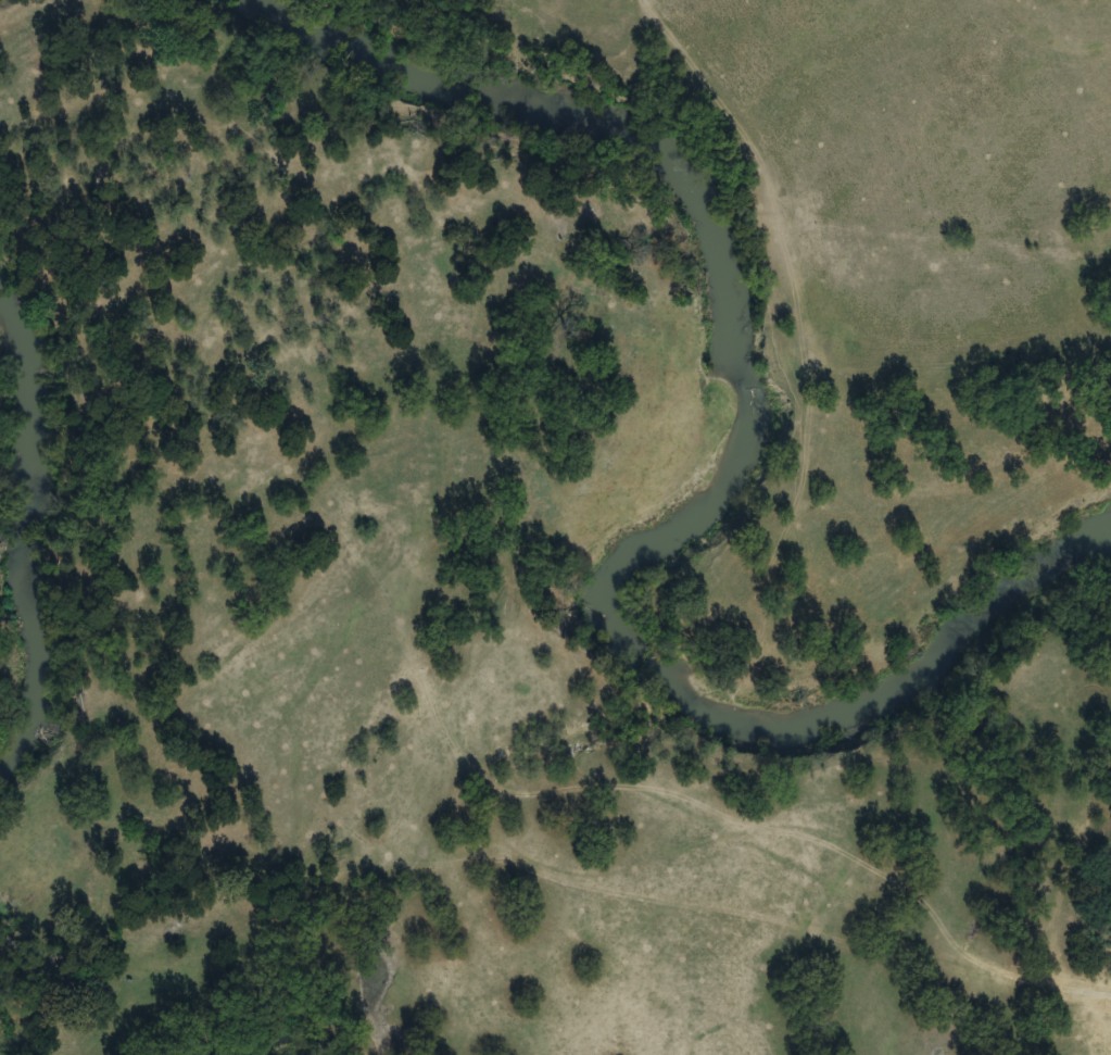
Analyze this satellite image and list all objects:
river: (717, 475)
river: (9, 545)

